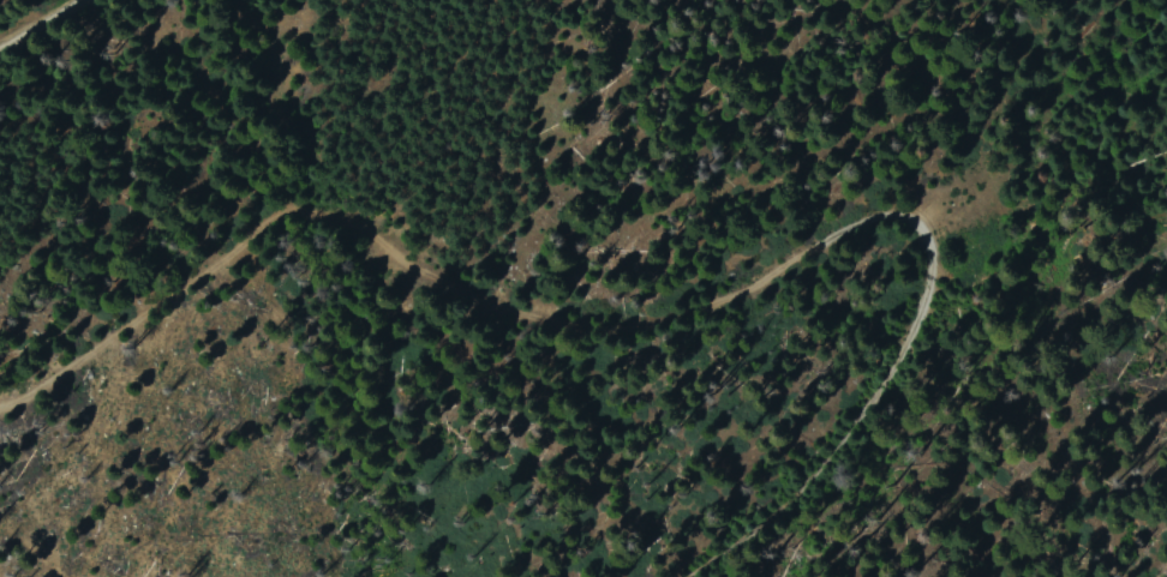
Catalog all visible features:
road: (34, 19)
road: (656, 314)

